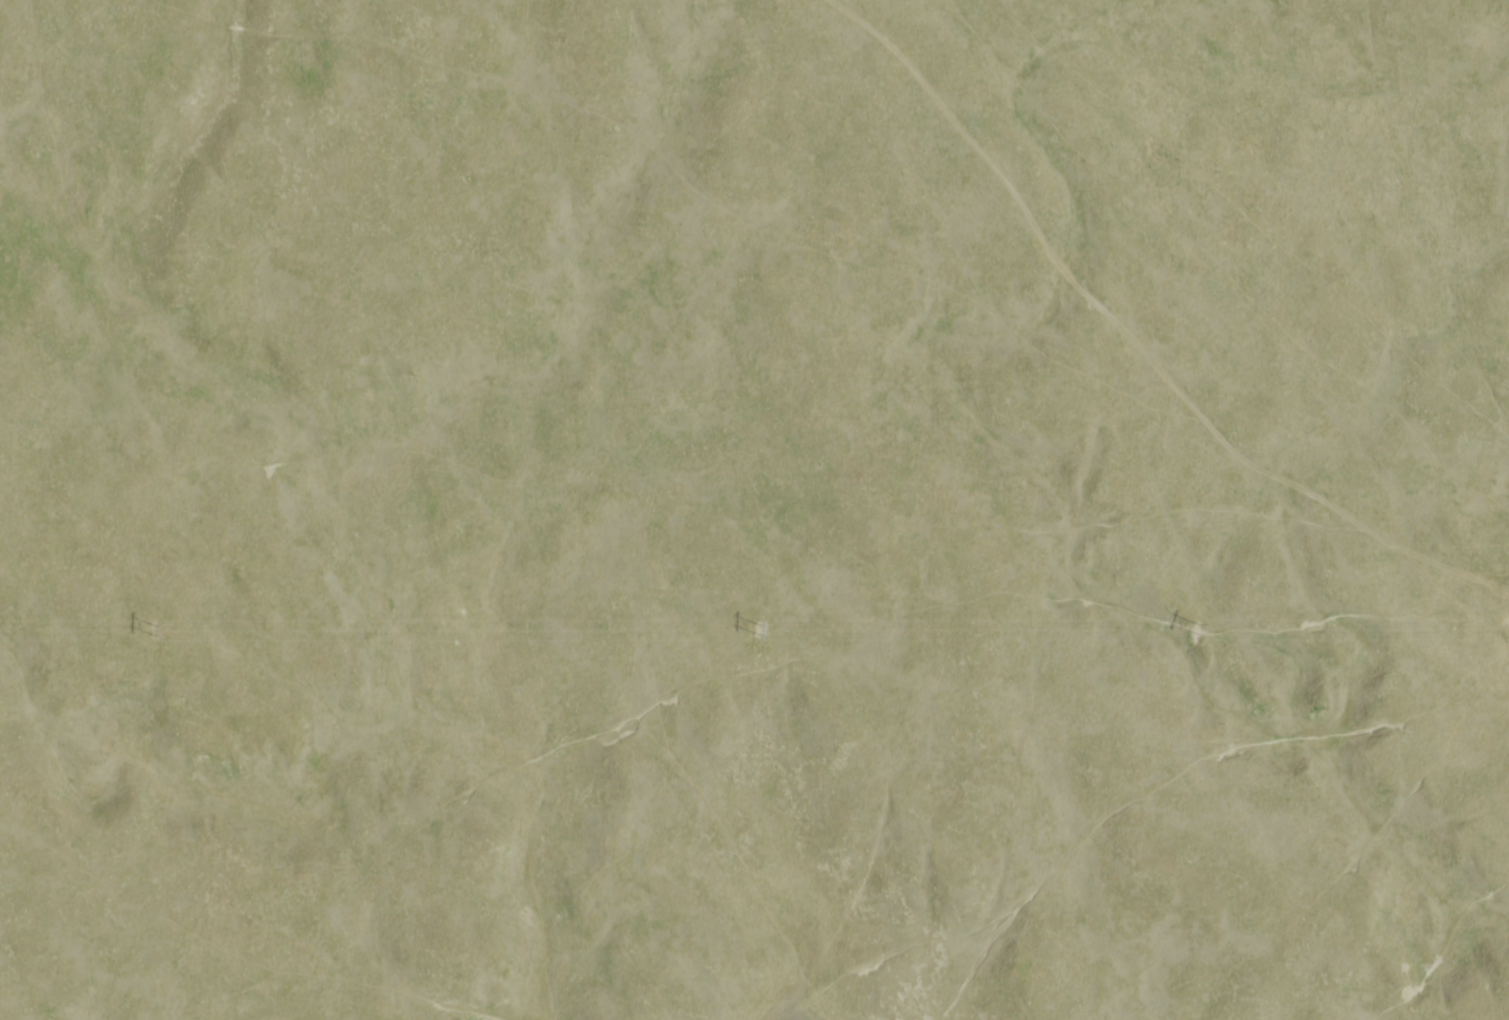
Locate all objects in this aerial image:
power tower: (757, 631)
power tower: (1196, 631)
power tower: (152, 632)

